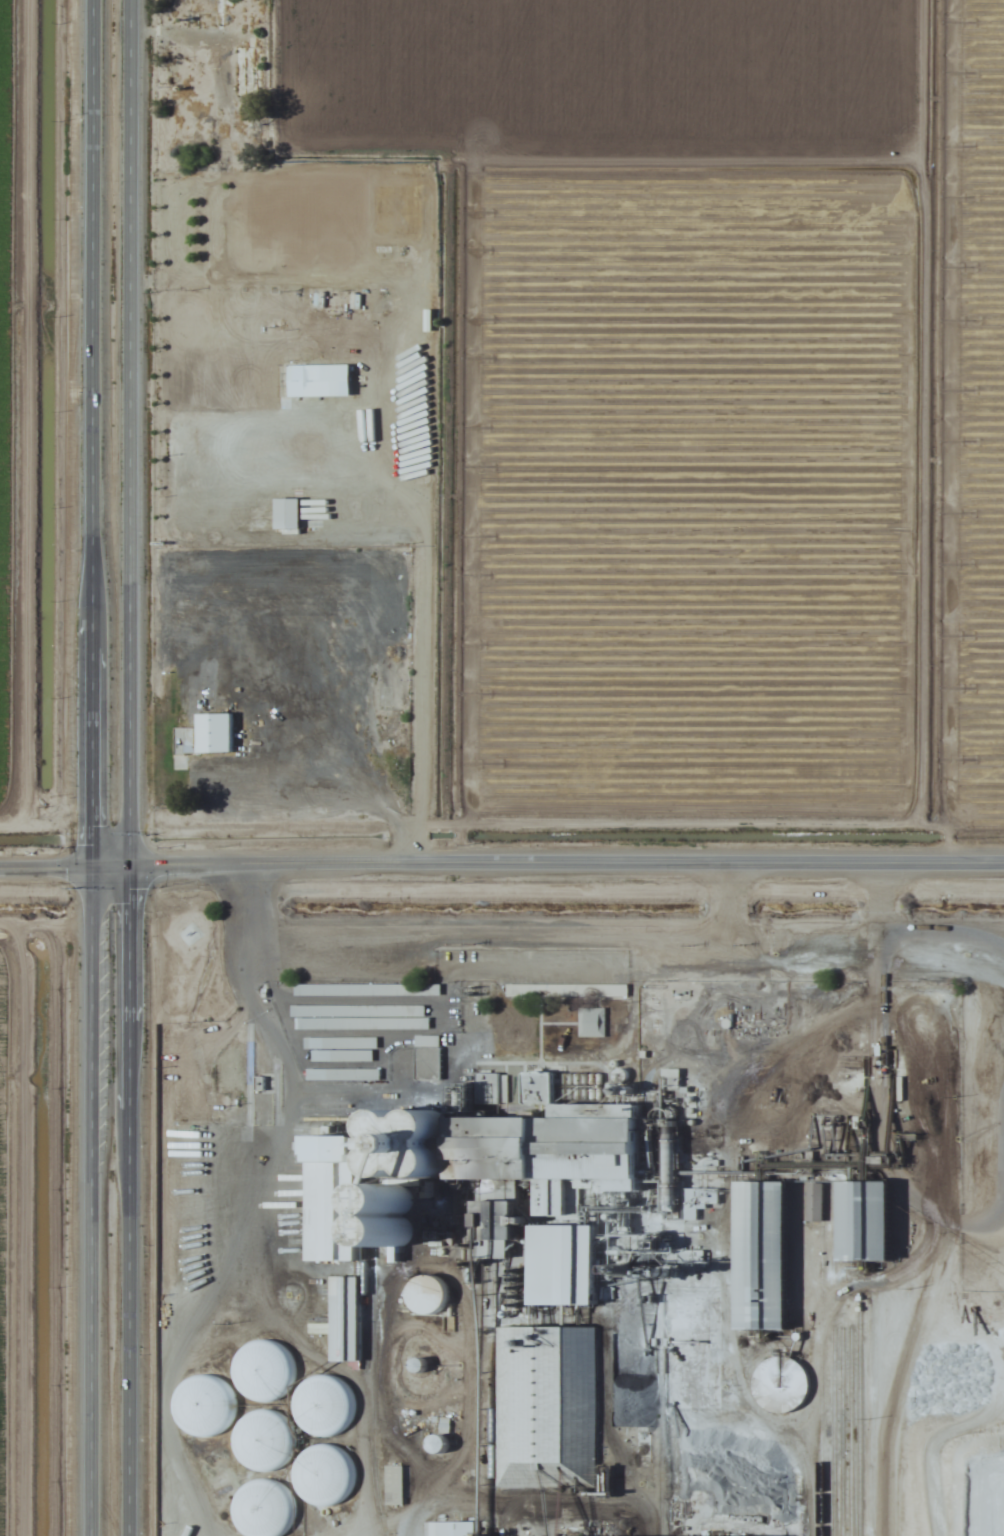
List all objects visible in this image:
building: (241, 253)
building: (319, 381)
building: (287, 514)
building: (205, 736)
road: (84, 767)
road: (125, 767)
road: (502, 869)
traffic signals: (84, 870)
traffic signals: (125, 870)
building: (429, 989)
building: (302, 991)
building: (566, 991)
building: (359, 1018)
building: (591, 1022)
building: (340, 1049)
building: (427, 1065)
building: (342, 1075)
building: (494, 1089)
building: (553, 1146)
building: (335, 1214)
building: (867, 1223)
building: (763, 1257)
building: (426, 1295)
railway: (805, 1316)
building: (345, 1320)
building: (546, 1362)
building: (259, 1371)
building: (205, 1405)
building: (321, 1406)
building: (262, 1442)
railway: (332, 1461)
building: (322, 1475)
building: (394, 1486)
building: (263, 1508)
building: (450, 1529)

